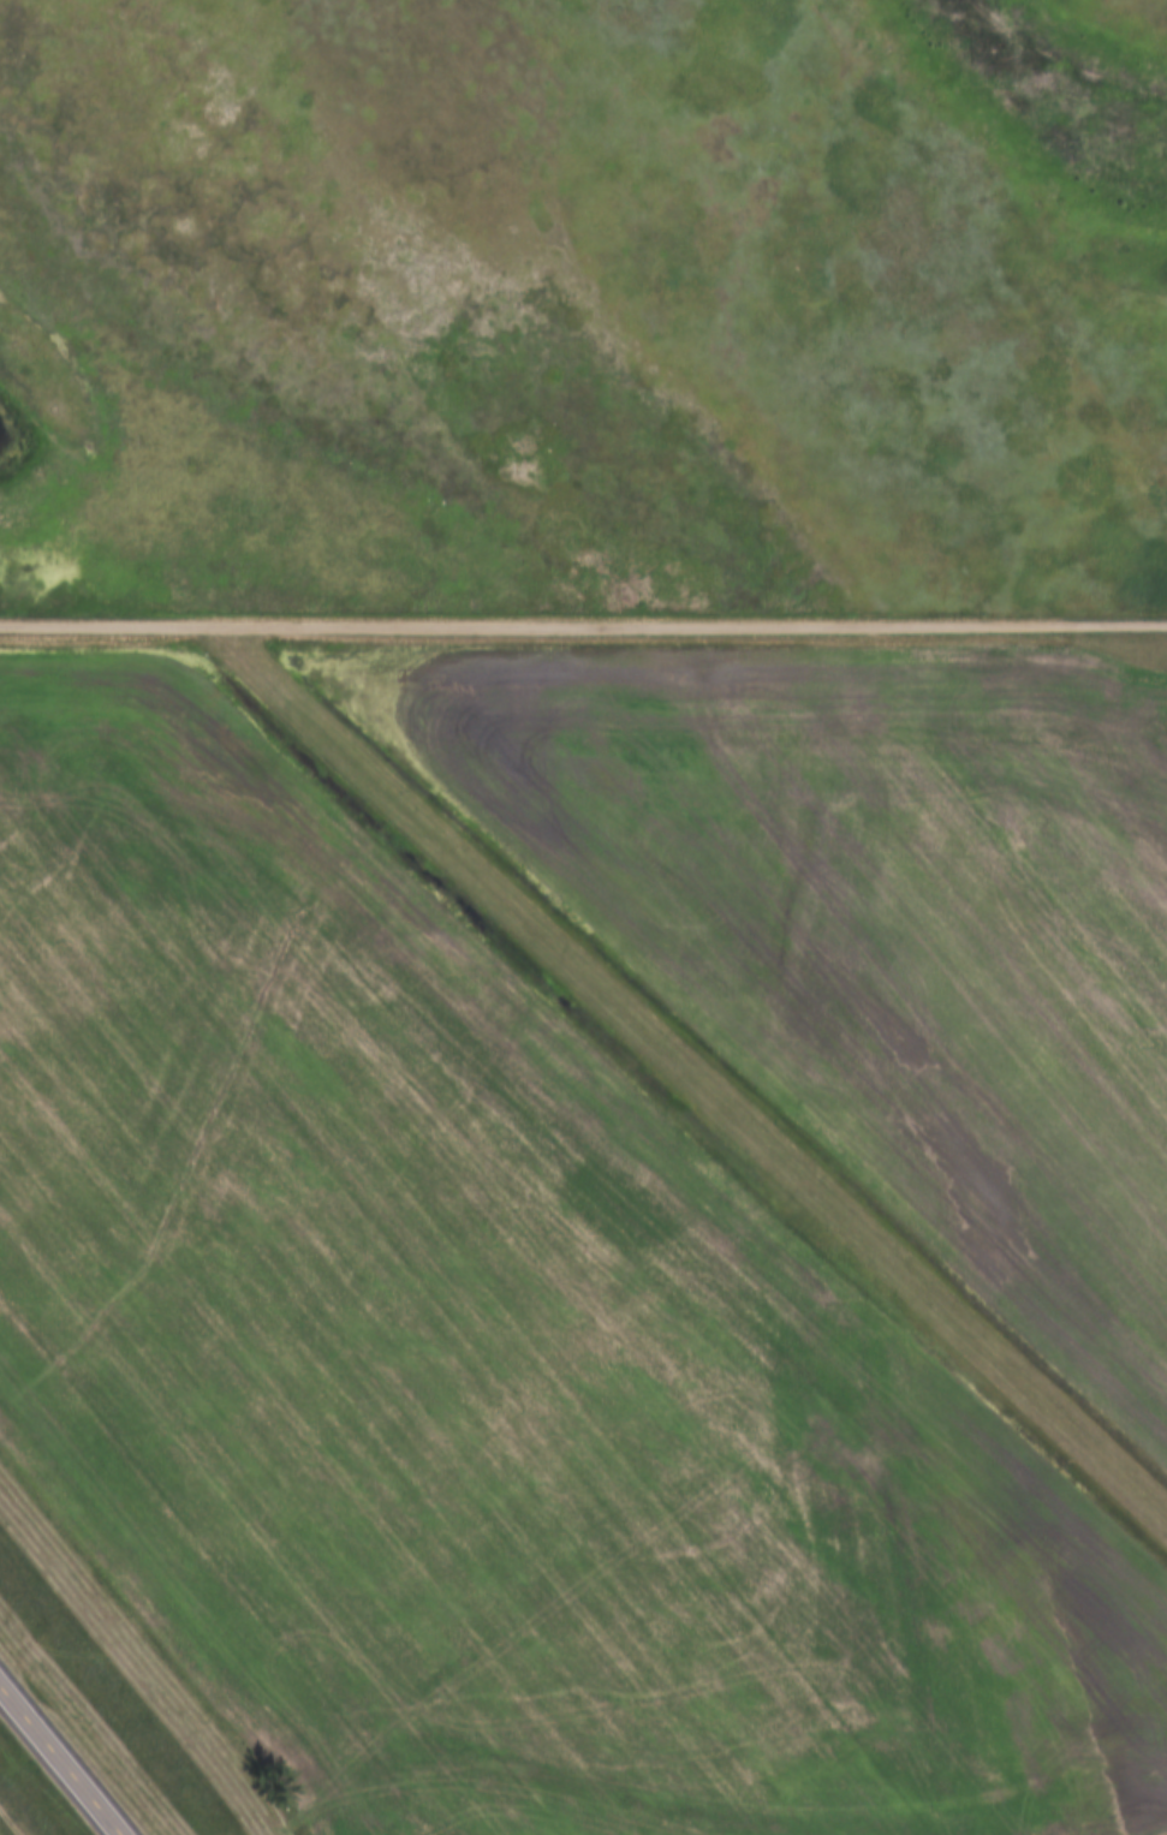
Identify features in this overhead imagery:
road: (583, 620)
road: (62, 1758)
road: (12, 1816)

